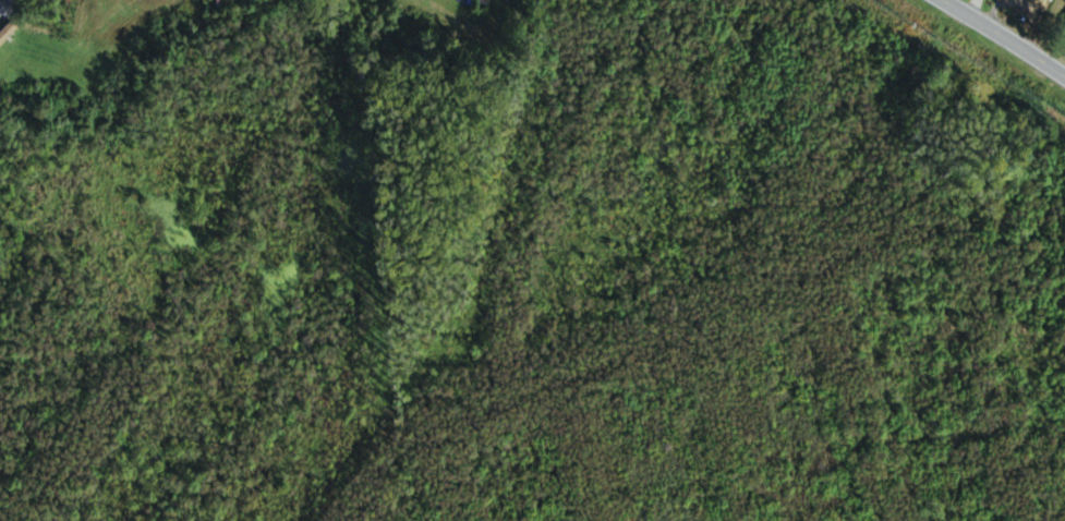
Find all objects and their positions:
road: (1, 1)
building: (1036, 3)
building: (1064, 27)
road: (1003, 39)

